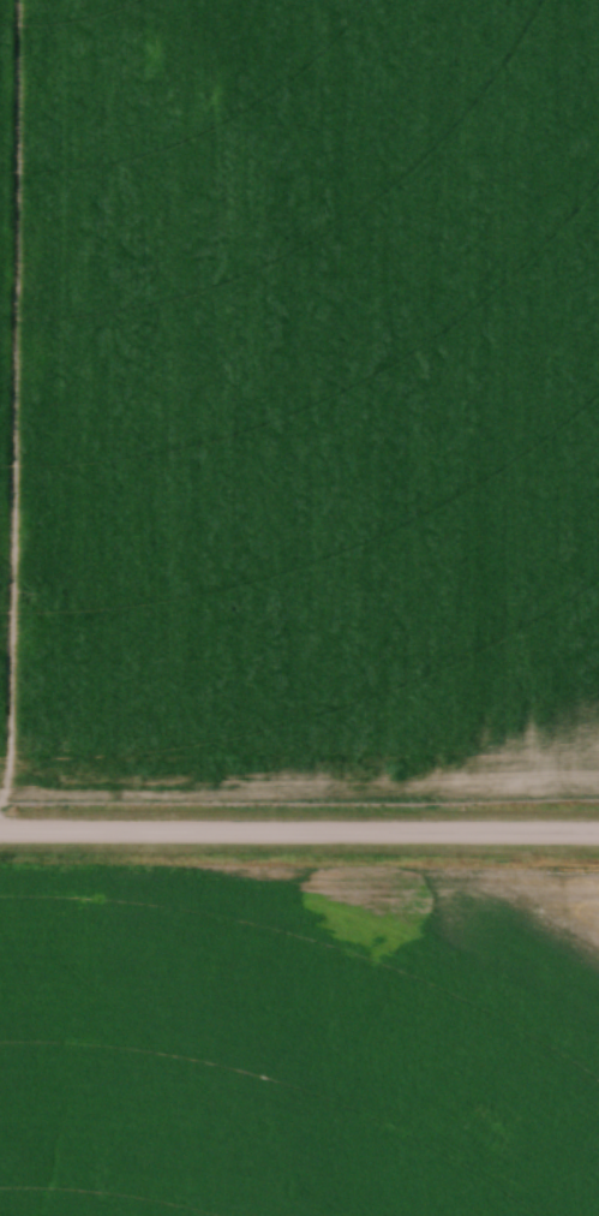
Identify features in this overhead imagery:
road: (299, 831)

